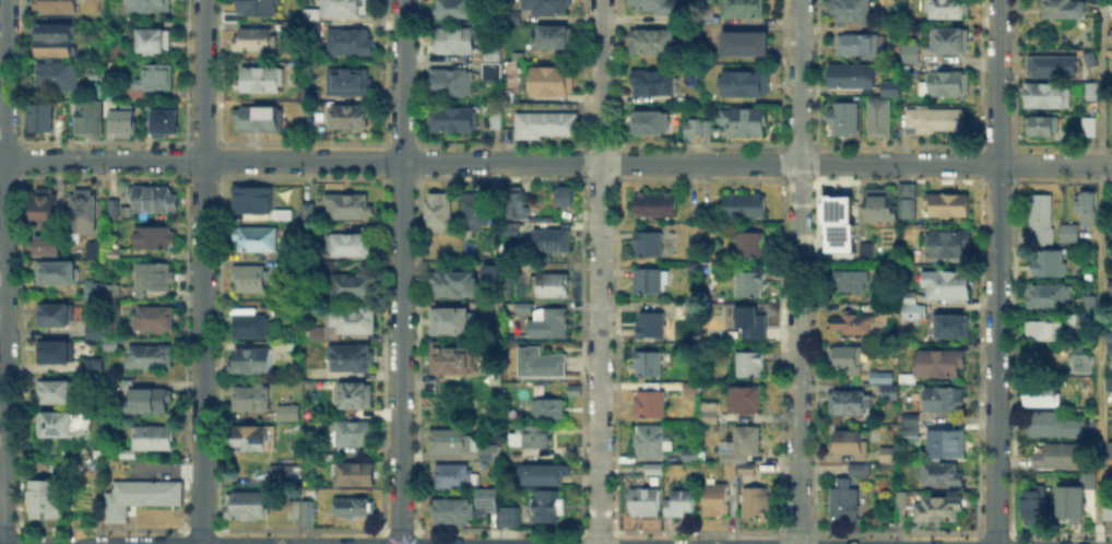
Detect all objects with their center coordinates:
building: (149, 5)
building: (58, 7)
building: (549, 7)
building: (656, 7)
building: (345, 9)
building: (456, 9)
building: (948, 9)
building: (1064, 9)
building: (253, 10)
building: (743, 10)
building: (852, 11)
building: (311, 13)
building: (514, 19)
building: (1111, 35)
building: (556, 38)
building: (56, 42)
building: (257, 42)
building: (456, 42)
building: (155, 43)
building: (653, 43)
building: (950, 43)
building: (350, 44)
building: (746, 45)
building: (859, 46)
building: (911, 54)
building: (492, 55)
building: (1091, 60)
building: (1110, 64)
building: (1045, 67)
building: (508, 68)
building: (493, 73)
building: (56, 76)
building: (853, 79)
building: (149, 81)
building: (261, 81)
road: (602, 81)
building: (551, 82)
building: (351, 83)
building: (451, 83)
building: (654, 84)
building: (949, 84)
building: (747, 85)
building: (1092, 93)
building: (1049, 96)
building: (883, 111)
building: (1110, 116)
building: (351, 117)
building: (43, 118)
building: (88, 118)
building: (452, 119)
building: (844, 119)
building: (934, 119)
building: (125, 120)
building: (745, 120)
building: (165, 121)
building: (261, 121)
building: (497, 121)
building: (651, 125)
building: (547, 126)
building: (1044, 127)
building: (694, 128)
building: (1091, 128)
road: (300, 159)
road: (856, 164)
building: (563, 194)
building: (252, 199)
building: (154, 201)
building: (907, 201)
building: (516, 205)
building: (656, 205)
building: (877, 205)
building: (945, 205)
building: (743, 206)
building: (114, 208)
building: (835, 208)
building: (348, 209)
building: (45, 210)
building: (1088, 211)
building: (84, 212)
building: (309, 213)
building: (440, 214)
building: (475, 214)
building: (283, 217)
building: (1042, 218)
building: (508, 227)
building: (1069, 235)
building: (838, 236)
building: (549, 238)
building: (155, 239)
building: (256, 239)
building: (347, 245)
building: (649, 245)
building: (752, 245)
building: (948, 245)
building: (93, 248)
building: (48, 249)
building: (868, 251)
building: (1110, 251)
building: (117, 256)
building: (910, 258)
building: (286, 265)
building: (1049, 265)
building: (324, 267)
road: (201, 271)
road: (401, 271)
building: (487, 271)
road: (797, 271)
road: (996, 271)
road: (3, 272)
building: (56, 272)
road: (1100, 272)
building: (152, 280)
building: (250, 280)
building: (649, 283)
building: (851, 283)
building: (749, 284)
building: (454, 285)
building: (551, 286)
building: (947, 286)
building: (352, 287)
building: (1111, 288)
building: (94, 291)
building: (113, 294)
building: (1050, 297)
building: (1091, 306)
building: (683, 311)
building: (910, 311)
building: (55, 316)
building: (155, 321)
building: (452, 321)
building: (1073, 321)
building: (752, 322)
building: (549, 324)
building: (345, 326)
building: (652, 326)
building: (851, 326)
building: (950, 326)
building: (250, 328)
building: (95, 332)
building: (1046, 332)
building: (1107, 334)
building: (113, 345)
building: (294, 345)
building: (1108, 347)
building: (277, 348)
building: (54, 353)
road: (600, 353)
building: (150, 358)
building: (352, 359)
building: (450, 359)
building: (847, 360)
building: (250, 362)
building: (1083, 362)
building: (941, 363)
building: (94, 364)
building: (542, 364)
building: (648, 365)
building: (750, 365)
building: (683, 367)
building: (878, 378)
building: (908, 379)
building: (1110, 386)
building: (691, 387)
building: (573, 390)
building: (54, 392)
building: (890, 393)
building: (357, 397)
building: (1043, 397)
building: (249, 399)
building: (746, 401)
building: (942, 401)
building: (153, 402)
building: (849, 402)
building: (650, 403)
building: (549, 409)
building: (707, 411)
building: (288, 412)
building: (1053, 425)
building: (910, 426)
building: (61, 427)
building: (296, 428)
building: (355, 434)
building: (536, 436)
building: (153, 438)
building: (251, 439)
building: (850, 441)
building: (648, 442)
building: (743, 442)
building: (453, 444)
building: (947, 445)
building: (1109, 449)
building: (490, 452)
building: (687, 452)
building: (889, 456)
building: (126, 457)
building: (1060, 458)
building: (747, 468)
building: (654, 469)
building: (729, 469)
building: (860, 471)
building: (547, 473)
building: (941, 474)
building: (287, 475)
building: (354, 476)
building: (453, 478)
building: (1073, 496)
building: (141, 498)
building: (494, 499)
building: (44, 500)
building: (717, 500)
building: (902, 500)
building: (844, 501)
building: (644, 502)
building: (1032, 502)
building: (682, 504)
building: (759, 504)
building: (546, 506)
building: (247, 507)
building: (354, 508)
building: (1109, 508)
building: (941, 509)
building: (295, 510)
building: (454, 513)
building: (308, 515)
building: (510, 516)

